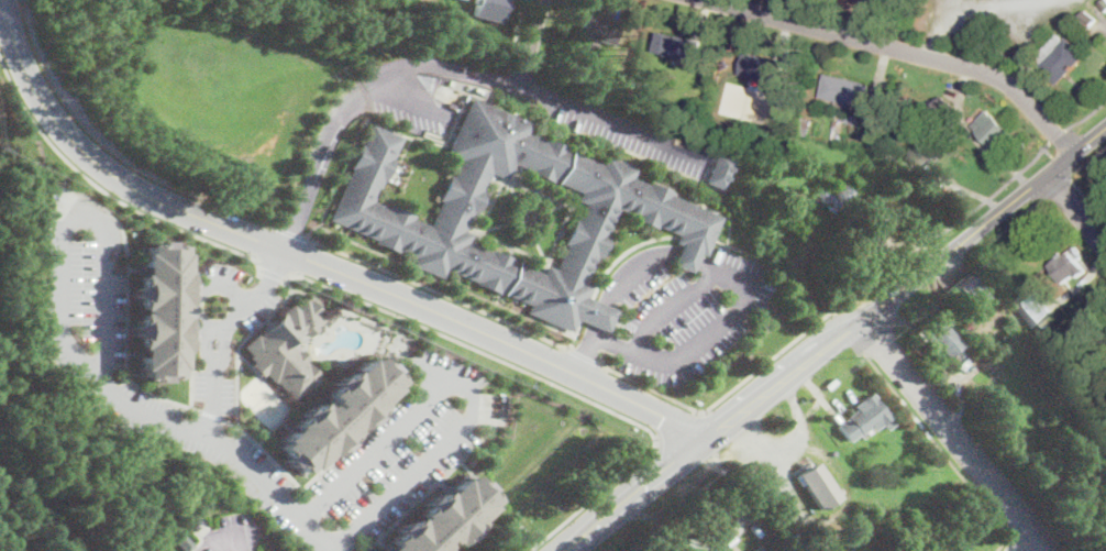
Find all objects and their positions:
building: (880, 1)
road: (5, 3)
building: (1103, 4)
road: (3, 7)
building: (488, 9)
road: (969, 12)
building: (1087, 19)
road: (519, 23)
road: (533, 24)
building: (597, 27)
building: (678, 46)
road: (906, 49)
building: (1060, 57)
road: (521, 67)
building: (761, 68)
road: (521, 86)
building: (639, 86)
building: (845, 90)
building: (657, 91)
building: (784, 103)
building: (731, 106)
building: (925, 106)
building: (943, 107)
road: (1085, 115)
building: (803, 125)
building: (995, 132)
road: (1055, 134)
building: (882, 142)
road: (112, 148)
building: (927, 150)
road: (1050, 152)
road: (1063, 168)
building: (721, 169)
road: (310, 175)
road: (108, 191)
building: (833, 199)
road: (1088, 200)
building: (793, 201)
road: (1077, 207)
building: (676, 214)
road: (943, 228)
road: (290, 232)
road: (320, 261)
building: (1069, 265)
road: (270, 266)
road: (273, 273)
road: (745, 280)
parking lot: (82, 290)
road: (199, 291)
building: (970, 293)
road: (244, 306)
road: (671, 306)
building: (1035, 306)
building: (157, 309)
road: (839, 339)
building: (944, 340)
road: (557, 343)
road: (224, 344)
road: (207, 345)
building: (287, 346)
road: (586, 353)
road: (584, 354)
road: (551, 382)
road: (720, 398)
road: (213, 400)
building: (335, 412)
building: (864, 418)
road: (677, 426)
road: (955, 436)
road: (942, 451)
road: (239, 454)
building: (819, 485)
road: (497, 500)
building: (438, 518)
parking lot: (231, 533)
road: (317, 533)
building: (184, 541)
road: (218, 542)
road: (1025, 542)
road: (1014, 543)
building: (756, 548)

